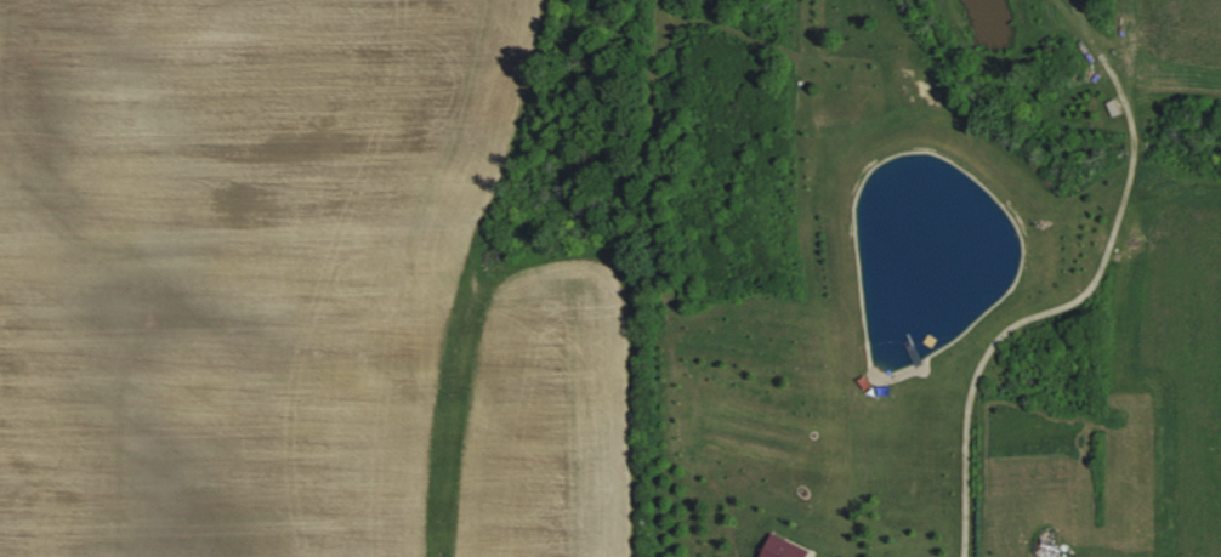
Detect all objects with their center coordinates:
building: (784, 547)

